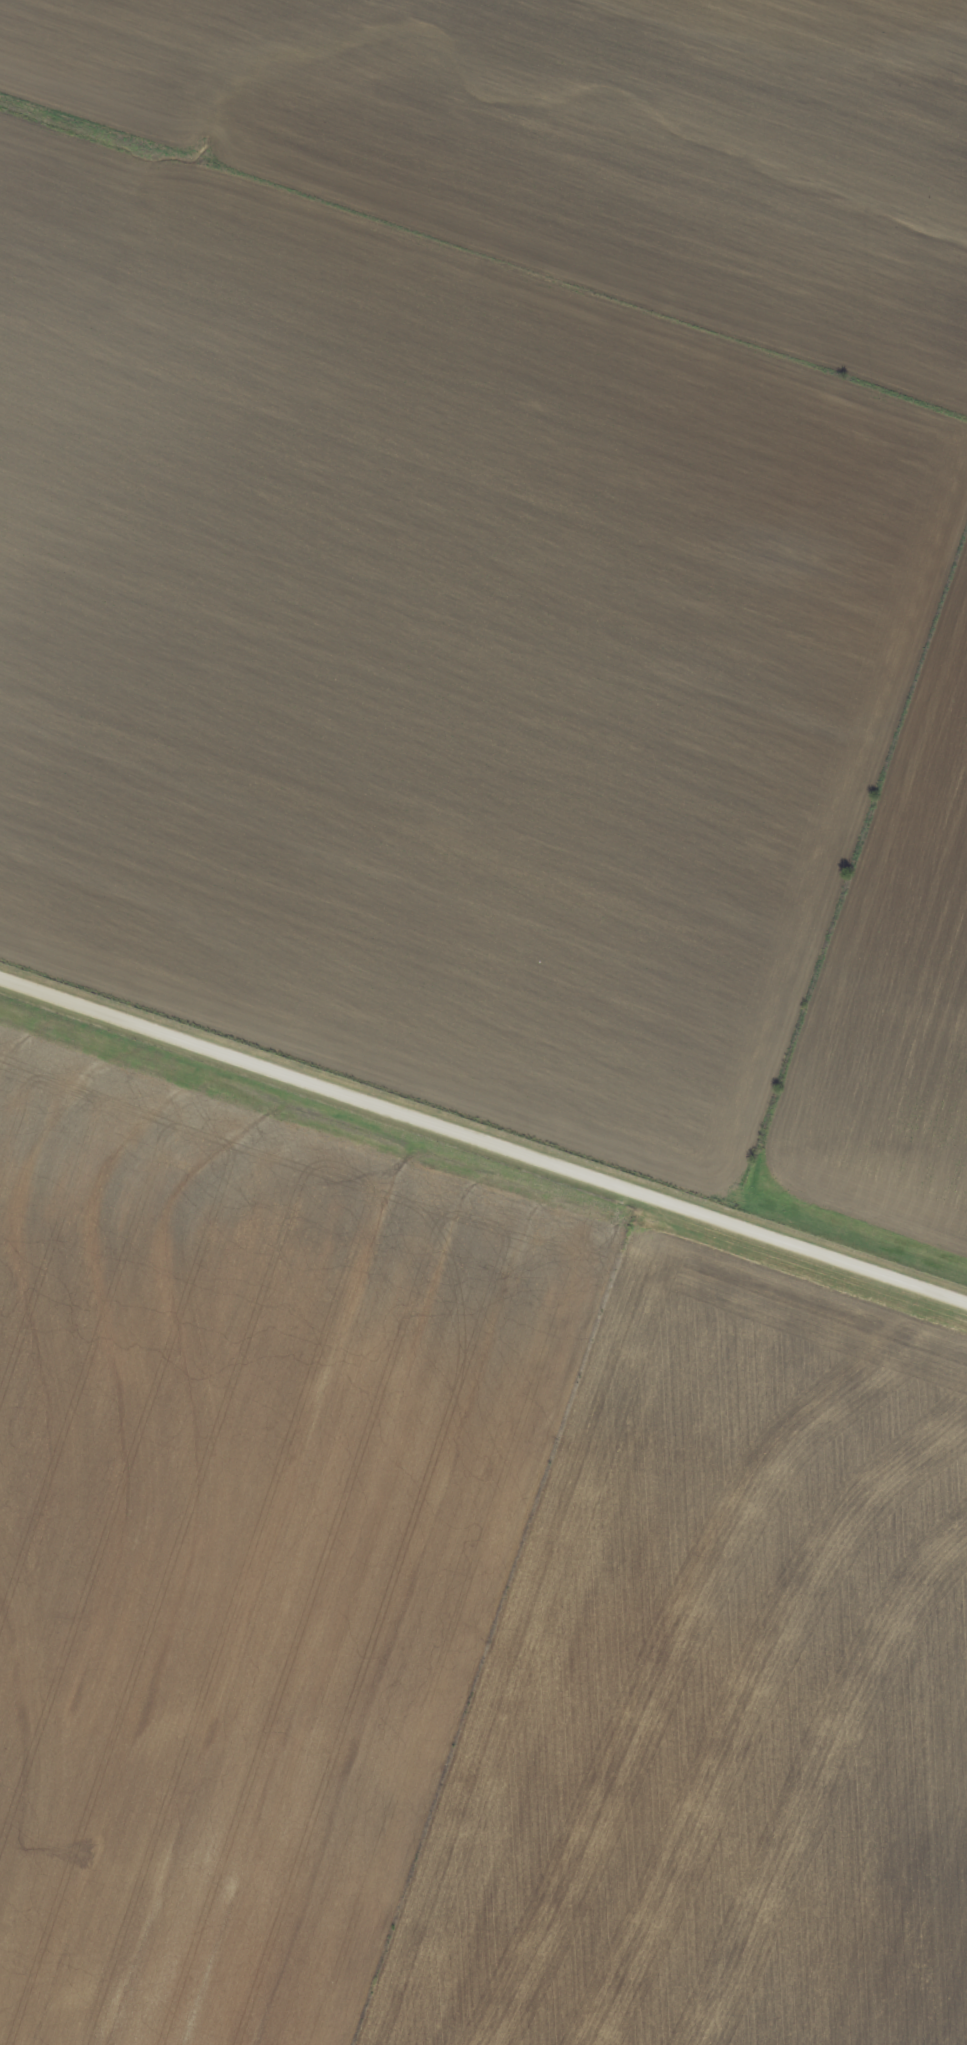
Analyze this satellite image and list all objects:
road: (483, 1136)

